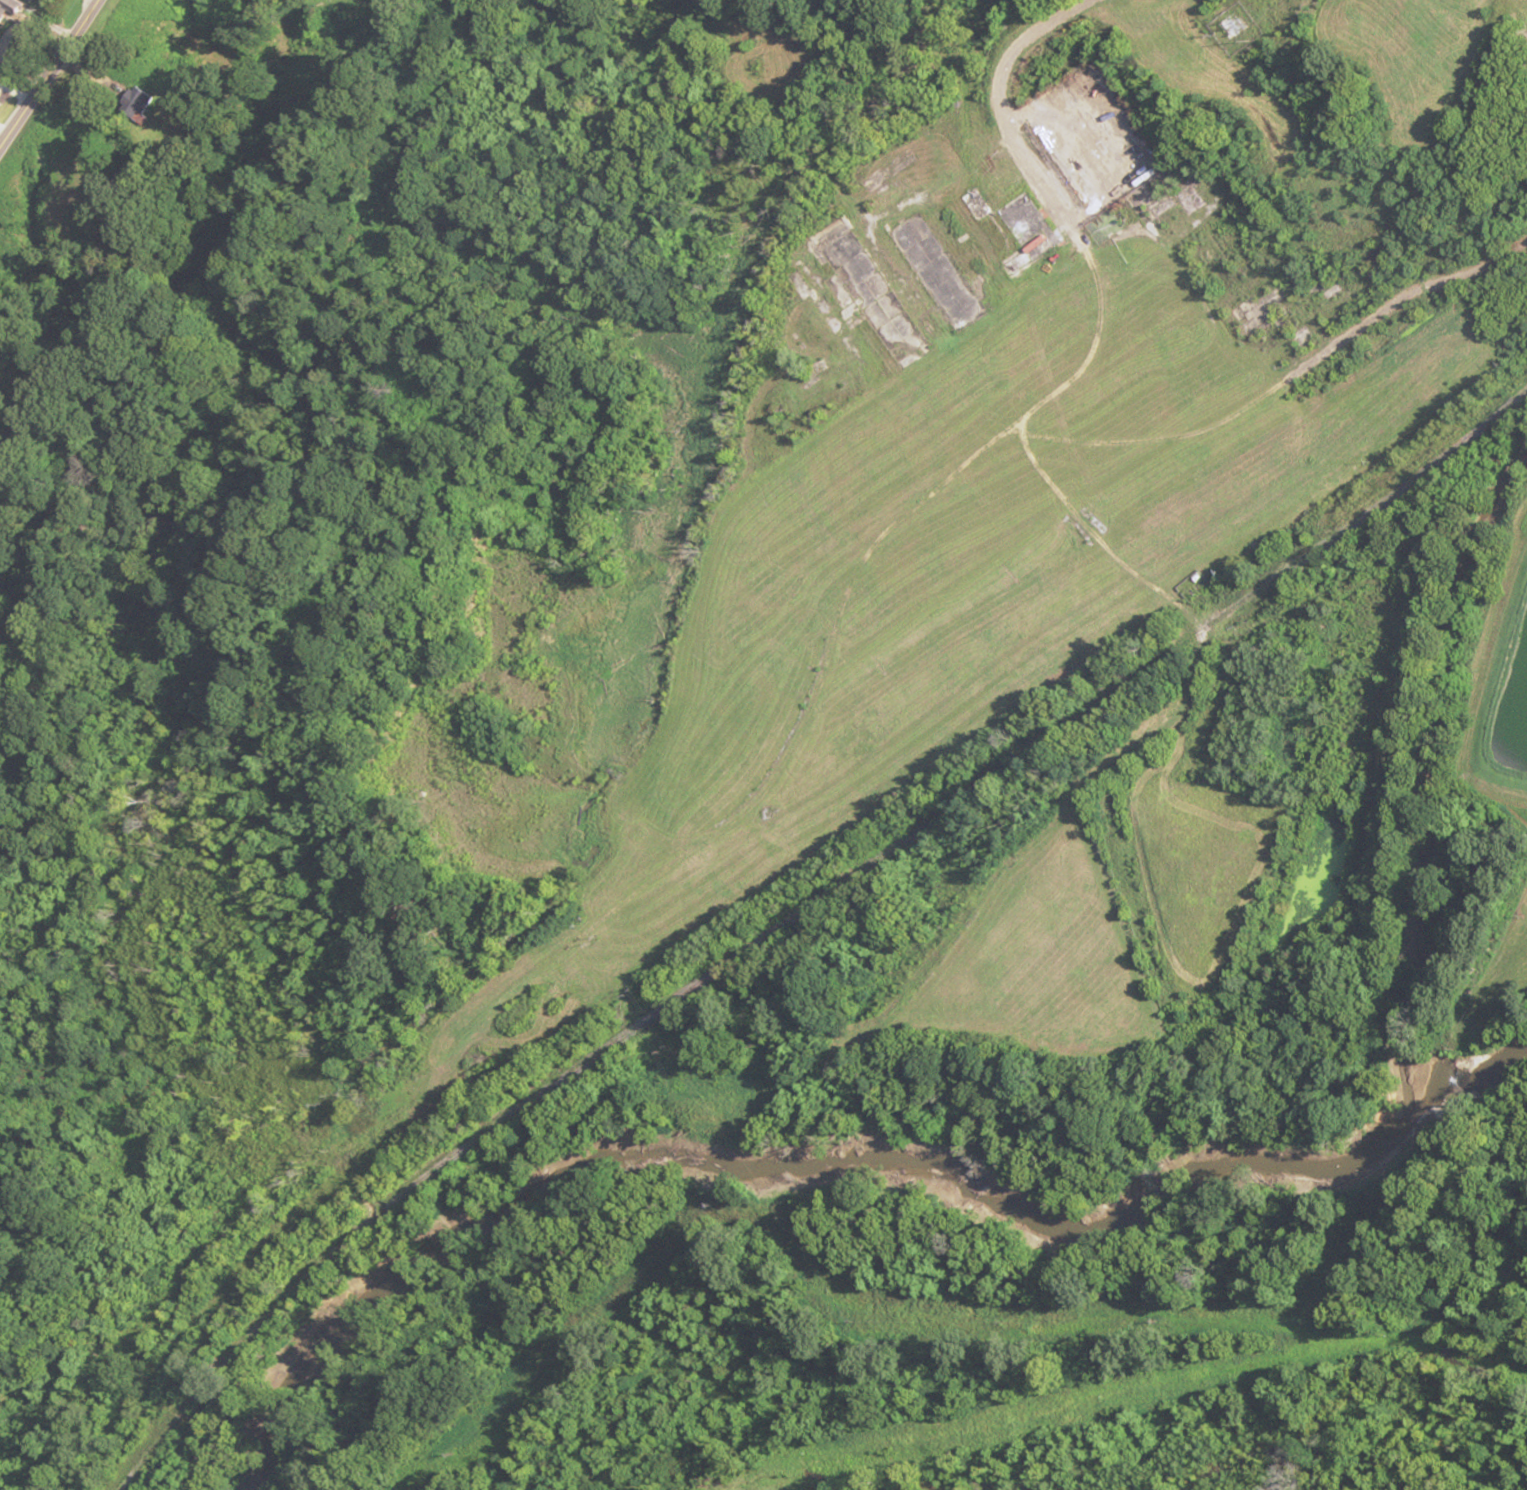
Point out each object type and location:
building: (39, 0)
building: (10, 14)
road: (29, 37)
building: (150, 105)
wastewater plant: (1500, 695)
railway: (794, 908)

